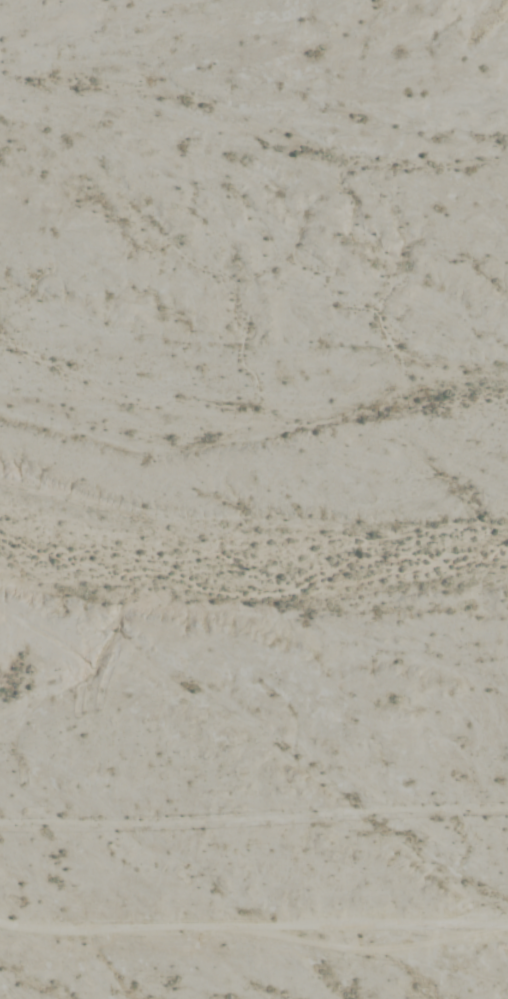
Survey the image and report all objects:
road: (253, 923)

